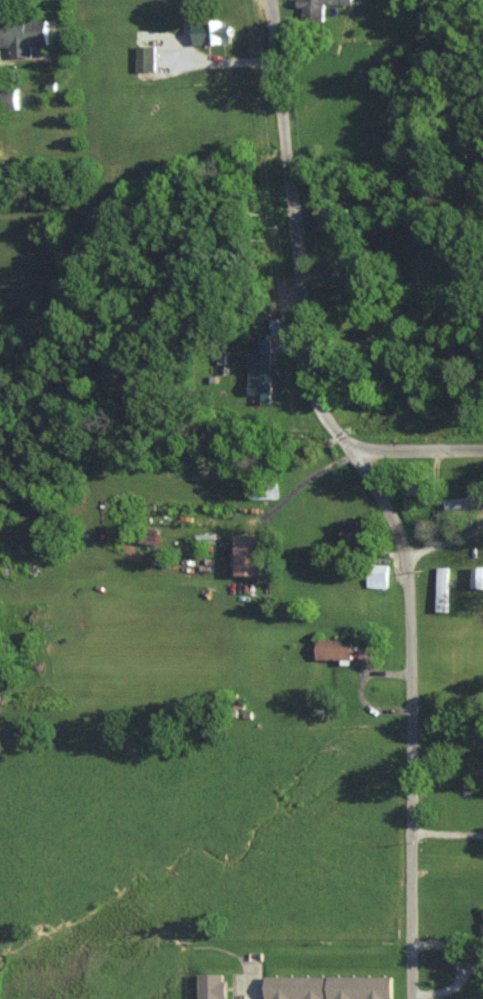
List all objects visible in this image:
building: (317, 7)
building: (210, 33)
building: (22, 35)
building: (145, 58)
building: (7, 98)
building: (324, 218)
building: (261, 369)
road: (432, 451)
road: (388, 485)
building: (419, 493)
building: (463, 501)
building: (353, 532)
building: (248, 555)
building: (377, 575)
building: (477, 577)
building: (442, 589)
building: (334, 649)
building: (365, 654)
building: (482, 911)
building: (211, 985)
road: (258, 986)
building: (327, 987)

